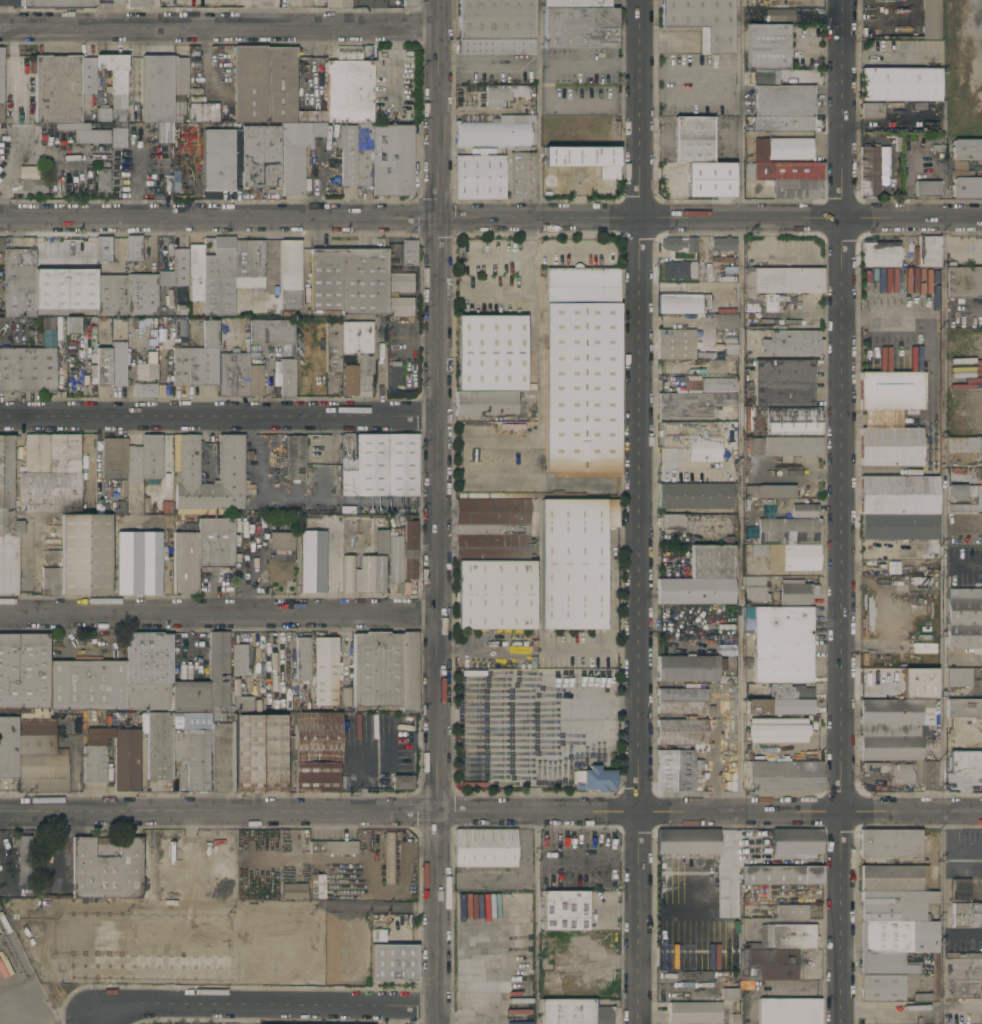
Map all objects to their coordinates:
building: (117, 1)
building: (58, 3)
building: (409, 3)
building: (138, 4)
building: (297, 4)
building: (337, 4)
road: (0, 14)
road: (259, 14)
building: (779, 16)
building: (496, 19)
building: (930, 19)
building: (701, 20)
building: (579, 24)
road: (220, 28)
building: (766, 46)
building: (494, 47)
road: (589, 66)
building: (114, 70)
building: (87, 76)
building: (179, 76)
building: (1, 82)
building: (263, 84)
building: (899, 86)
building: (348, 88)
building: (56, 89)
building: (156, 89)
building: (496, 95)
building: (780, 97)
road: (589, 100)
road: (538, 109)
road: (843, 109)
building: (113, 110)
building: (871, 110)
building: (178, 111)
building: (205, 112)
building: (782, 124)
building: (317, 129)
building: (491, 134)
building: (73, 135)
building: (117, 137)
building: (938, 147)
building: (781, 149)
building: (967, 149)
building: (363, 154)
building: (260, 156)
building: (293, 156)
building: (348, 156)
road: (9, 158)
building: (700, 158)
building: (218, 159)
building: (392, 160)
building: (580, 161)
building: (868, 171)
building: (29, 173)
building: (521, 175)
building: (480, 177)
building: (102, 179)
building: (791, 179)
building: (964, 182)
building: (35, 183)
road: (137, 183)
building: (86, 184)
building: (932, 184)
road: (421, 218)
road: (912, 218)
building: (671, 244)
building: (723, 244)
building: (691, 245)
building: (206, 246)
building: (133, 248)
building: (102, 249)
building: (169, 250)
building: (55, 252)
building: (926, 252)
building: (409, 253)
building: (880, 255)
building: (1, 263)
building: (248, 264)
building: (179, 267)
building: (678, 270)
building: (195, 271)
building: (290, 278)
building: (164, 279)
building: (218, 279)
building: (325, 280)
building: (781, 280)
building: (363, 281)
building: (963, 282)
building: (18, 283)
building: (401, 283)
road: (530, 291)
building: (141, 294)
building: (111, 295)
building: (682, 303)
building: (271, 306)
building: (400, 307)
road: (887, 316)
building: (724, 321)
building: (48, 323)
building: (235, 325)
building: (72, 326)
building: (1, 332)
building: (271, 332)
building: (675, 336)
building: (356, 338)
building: (48, 339)
building: (791, 343)
building: (332, 348)
building: (680, 352)
building: (490, 353)
building: (204, 357)
building: (118, 364)
building: (103, 366)
building: (161, 366)
building: (179, 366)
building: (714, 367)
building: (28, 371)
building: (582, 372)
building: (233, 374)
building: (308, 376)
building: (145, 377)
building: (287, 378)
building: (393, 378)
building: (255, 380)
building: (350, 380)
building: (709, 383)
building: (783, 383)
building: (485, 404)
building: (691, 404)
road: (739, 405)
building: (980, 414)
road: (220, 417)
building: (748, 417)
building: (889, 418)
building: (792, 421)
building: (698, 439)
building: (965, 445)
building: (755, 446)
building: (793, 446)
building: (745, 449)
building: (151, 457)
building: (294, 457)
building: (113, 458)
building: (133, 465)
building: (378, 465)
building: (978, 473)
building: (50, 474)
building: (230, 474)
building: (769, 491)
building: (530, 495)
building: (898, 495)
building: (694, 496)
road: (297, 497)
building: (964, 498)
building: (761, 502)
road: (640, 511)
building: (803, 511)
road: (439, 512)
road: (842, 515)
building: (8, 518)
building: (672, 522)
building: (899, 526)
road: (965, 527)
building: (491, 529)
building: (787, 532)
building: (692, 537)
building: (280, 541)
building: (380, 542)
building: (410, 550)
building: (200, 552)
building: (83, 555)
building: (788, 556)
building: (395, 557)
building: (312, 562)
building: (573, 562)
building: (128, 563)
building: (150, 563)
road: (967, 567)
building: (893, 568)
building: (279, 569)
building: (362, 574)
building: (702, 578)
building: (50, 581)
building: (920, 581)
building: (754, 589)
building: (796, 592)
building: (495, 595)
road: (219, 615)
building: (964, 618)
road: (941, 620)
building: (782, 645)
building: (302, 659)
building: (239, 660)
building: (981, 661)
building: (693, 667)
building: (147, 670)
building: (376, 670)
building: (325, 671)
building: (408, 672)
building: (24, 676)
building: (958, 677)
building: (208, 682)
building: (86, 685)
building: (789, 692)
building: (344, 697)
building: (681, 701)
building: (242, 703)
building: (778, 706)
building: (963, 708)
building: (727, 712)
road: (544, 714)
building: (892, 729)
building: (776, 731)
building: (680, 732)
building: (316, 737)
building: (158, 746)
building: (8, 748)
building: (809, 750)
building: (202, 751)
building: (95, 754)
building: (260, 754)
building: (967, 757)
building: (39, 758)
building: (126, 760)
road: (716, 763)
building: (677, 771)
building: (908, 773)
building: (783, 775)
building: (315, 777)
building: (593, 780)
building: (402, 783)
road: (421, 812)
road: (912, 812)
building: (687, 842)
building: (795, 842)
building: (889, 844)
building: (331, 848)
building: (484, 848)
building: (389, 858)
building: (23, 859)
building: (106, 867)
building: (779, 875)
building: (894, 878)
building: (317, 886)
building: (293, 891)
building: (965, 891)
building: (894, 906)
building: (731, 907)
building: (564, 911)
building: (791, 912)
building: (966, 915)
road: (534, 918)
road: (842, 918)
road: (961, 932)
building: (552, 937)
building: (785, 937)
building: (898, 937)
building: (393, 963)
building: (771, 964)
building: (886, 964)
building: (933, 972)
building: (962, 975)
building: (547, 982)
building: (513, 986)
building: (885, 987)
road: (777, 989)
building: (729, 994)
road: (264, 1005)
building: (789, 1011)
road: (912, 1011)
building: (573, 1012)
building: (694, 1013)
road: (241, 1014)
road: (392, 1015)
building: (734, 1018)
road: (93, 1021)
building: (527, 1022)

